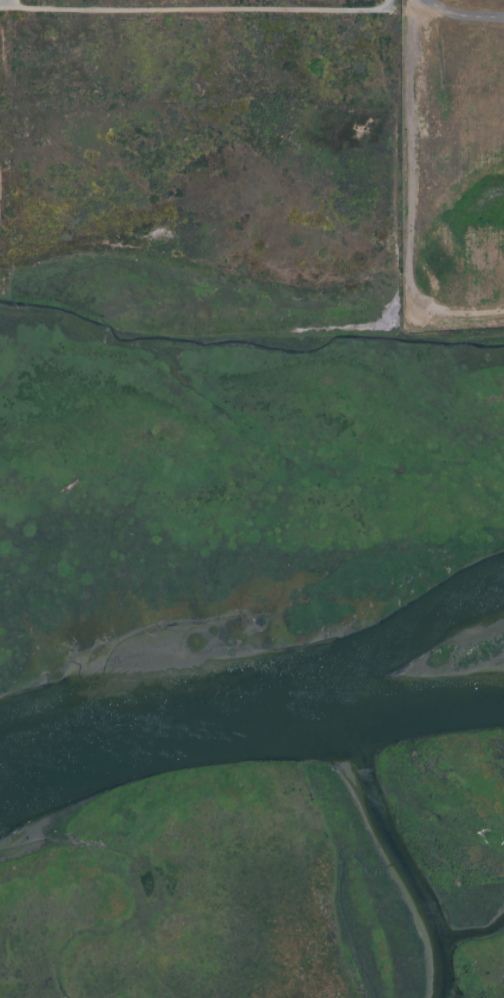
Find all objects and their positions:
road: (3, 3)
road: (197, 9)
road: (462, 17)
airport: (452, 165)
road: (407, 196)
river: (260, 710)
river: (397, 840)

